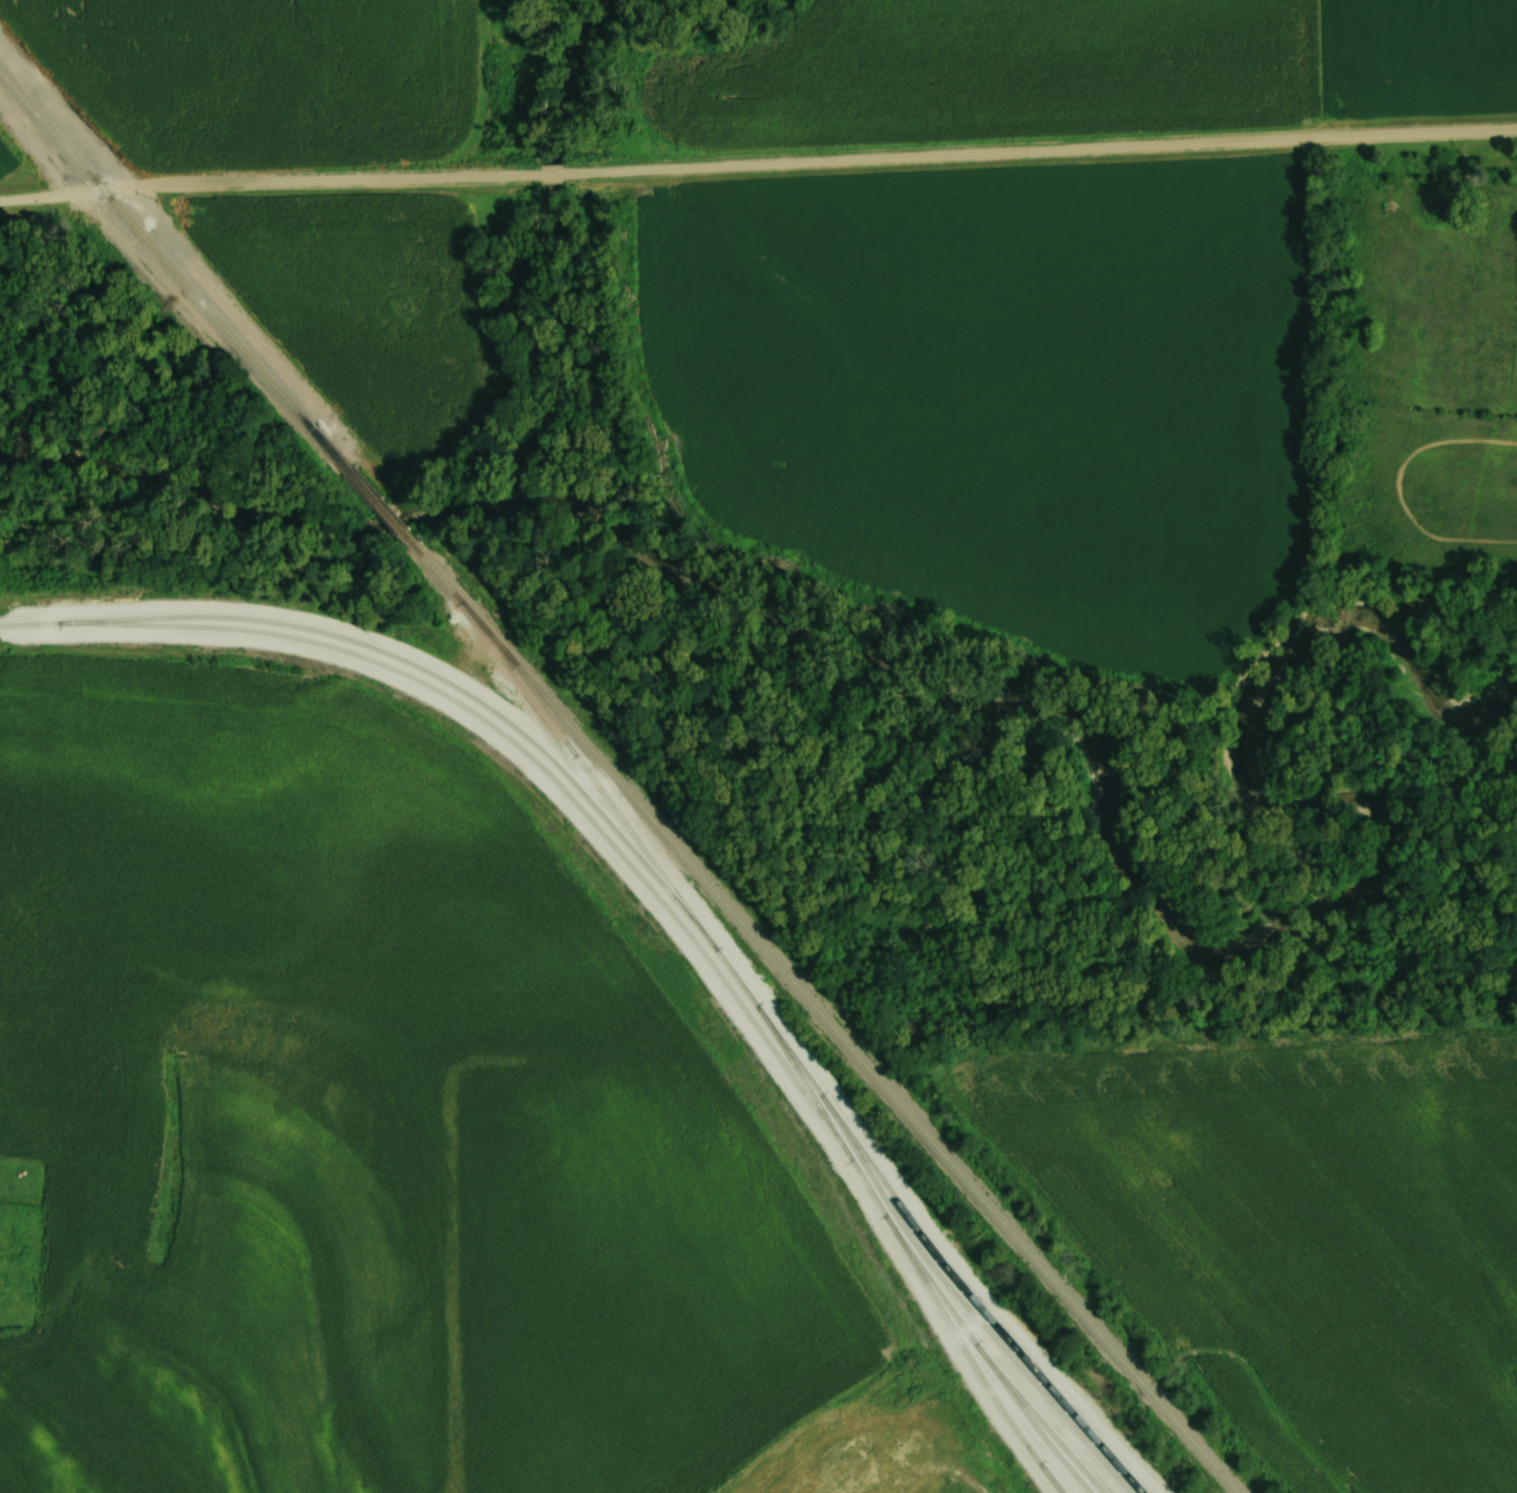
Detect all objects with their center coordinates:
crop: (2, 157)
road: (758, 169)
railway: (177, 273)
railway: (379, 502)
railway: (819, 1013)

